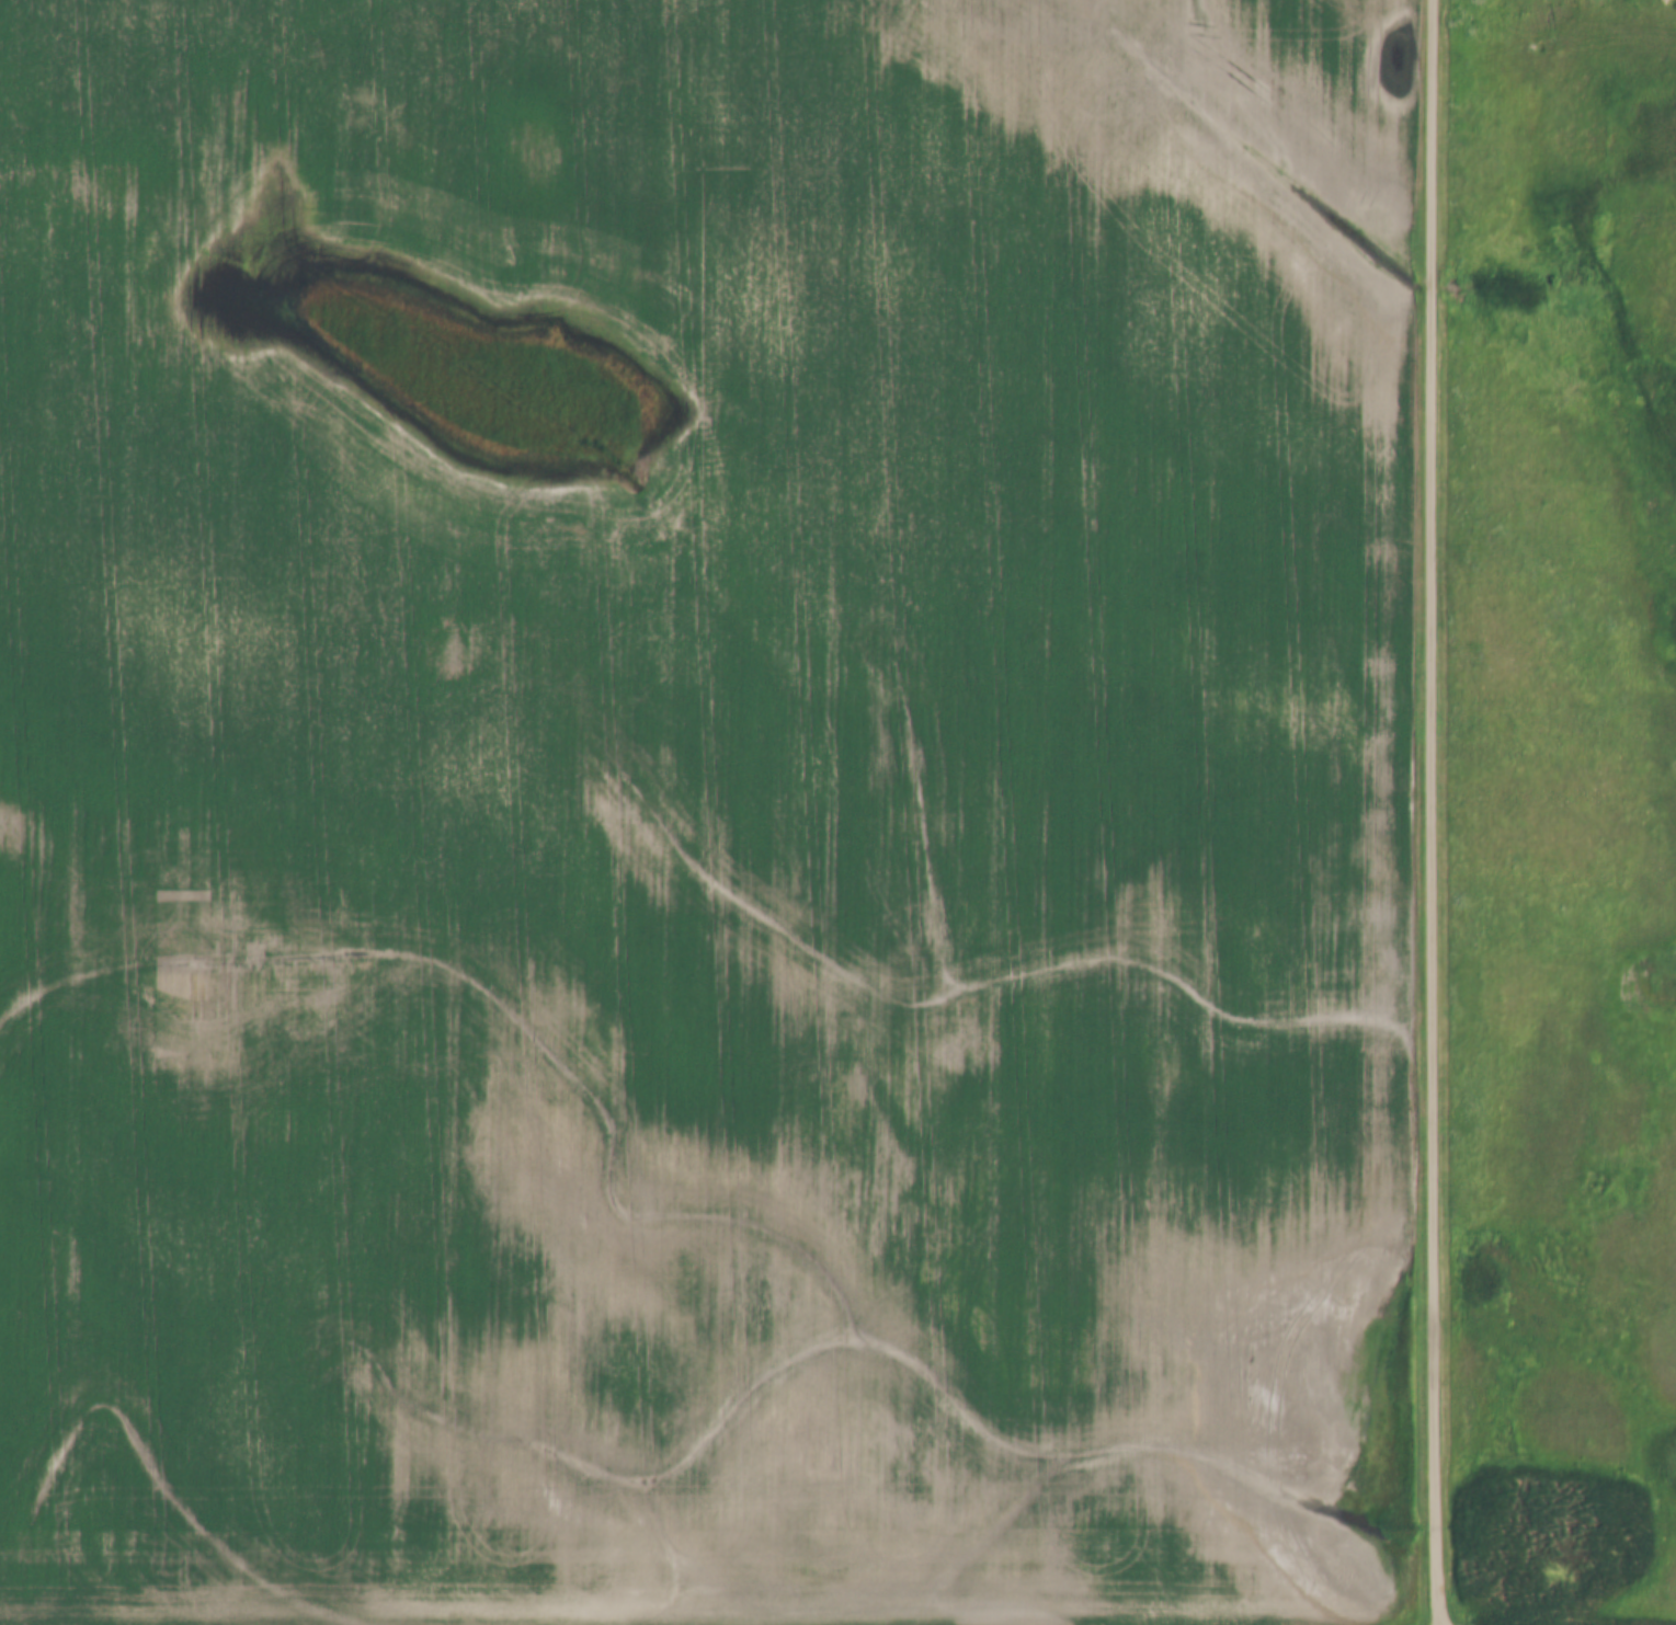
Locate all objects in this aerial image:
road: (1429, 812)

